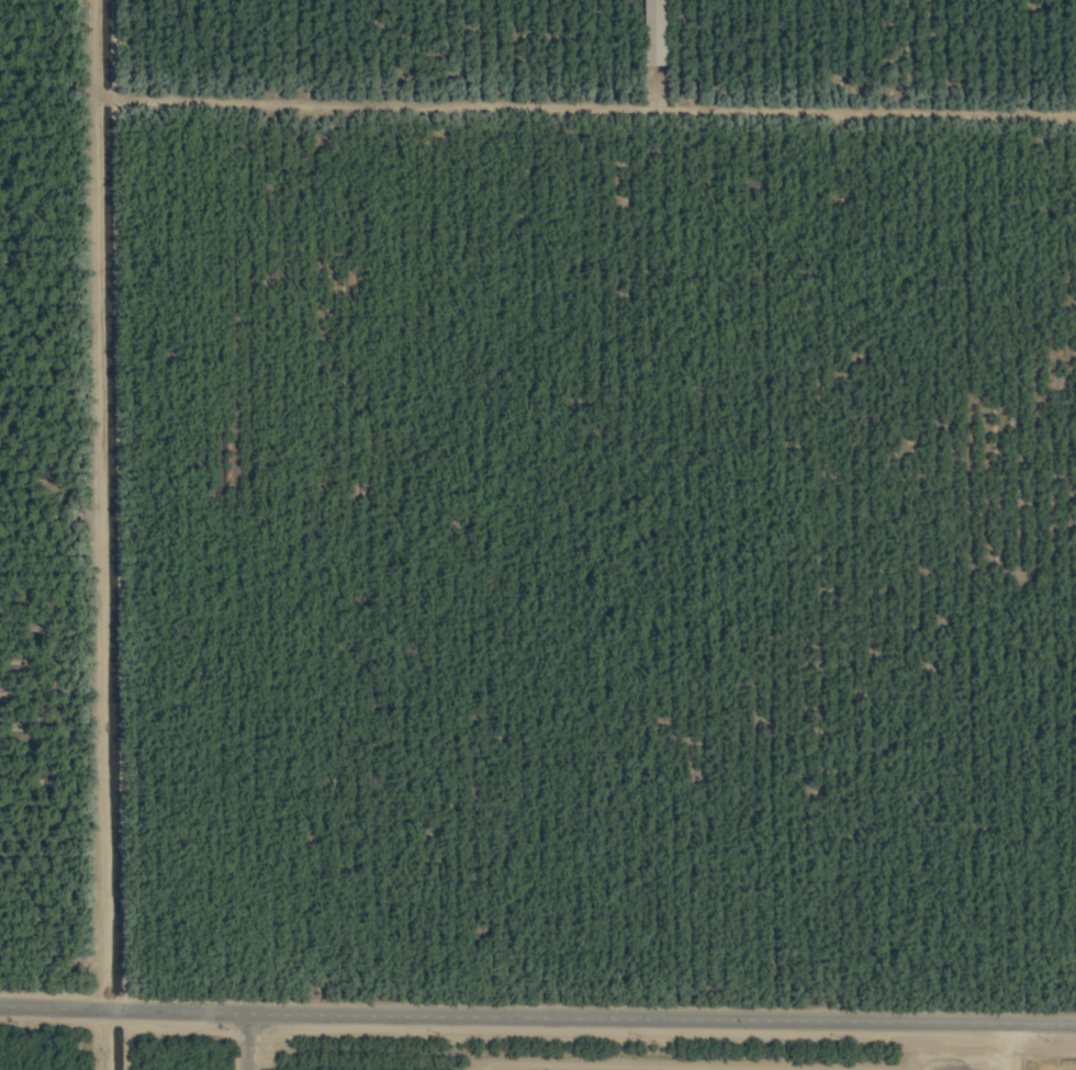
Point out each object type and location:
crop: (538, 534)
road: (537, 1012)
road: (235, 1039)
road: (921, 1044)

